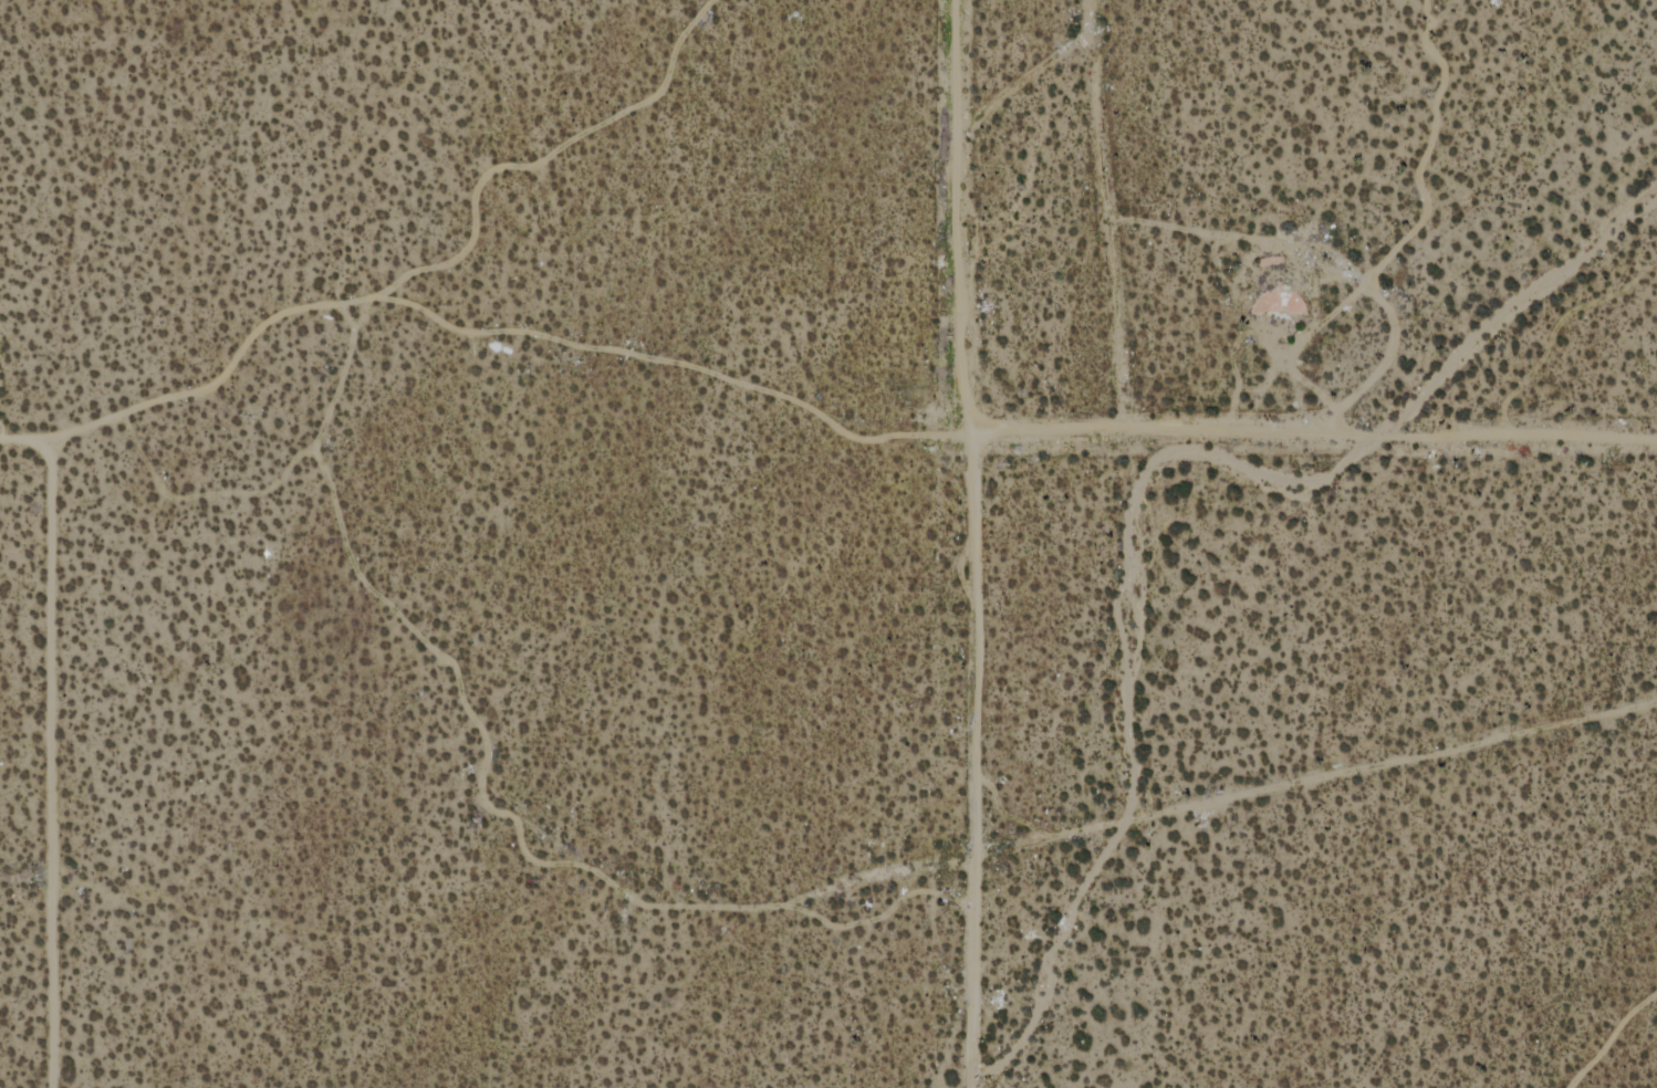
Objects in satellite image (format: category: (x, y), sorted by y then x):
road: (1520, 307)
road: (968, 425)
road: (971, 969)

